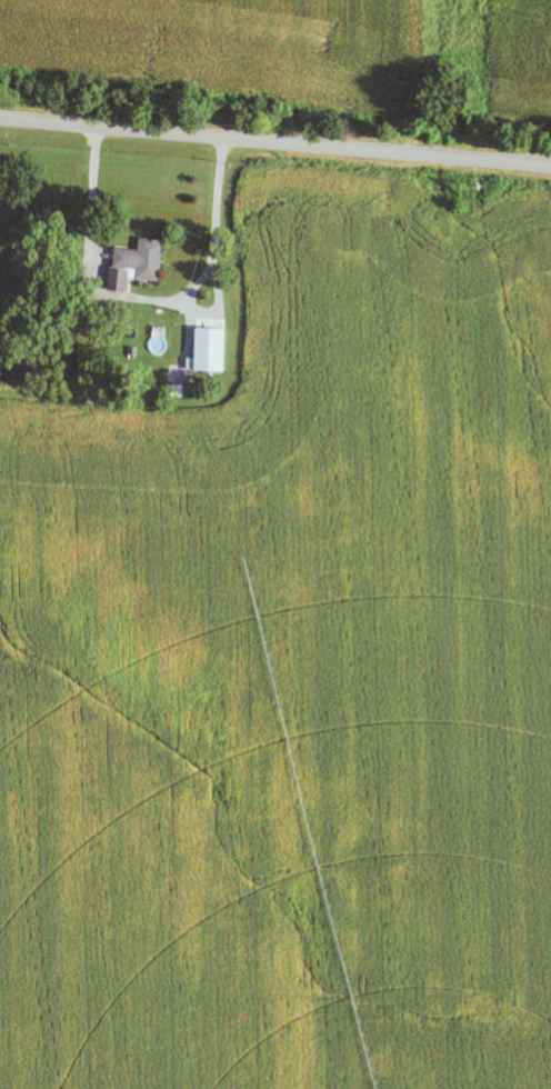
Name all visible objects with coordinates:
road: (275, 138)
building: (140, 266)

